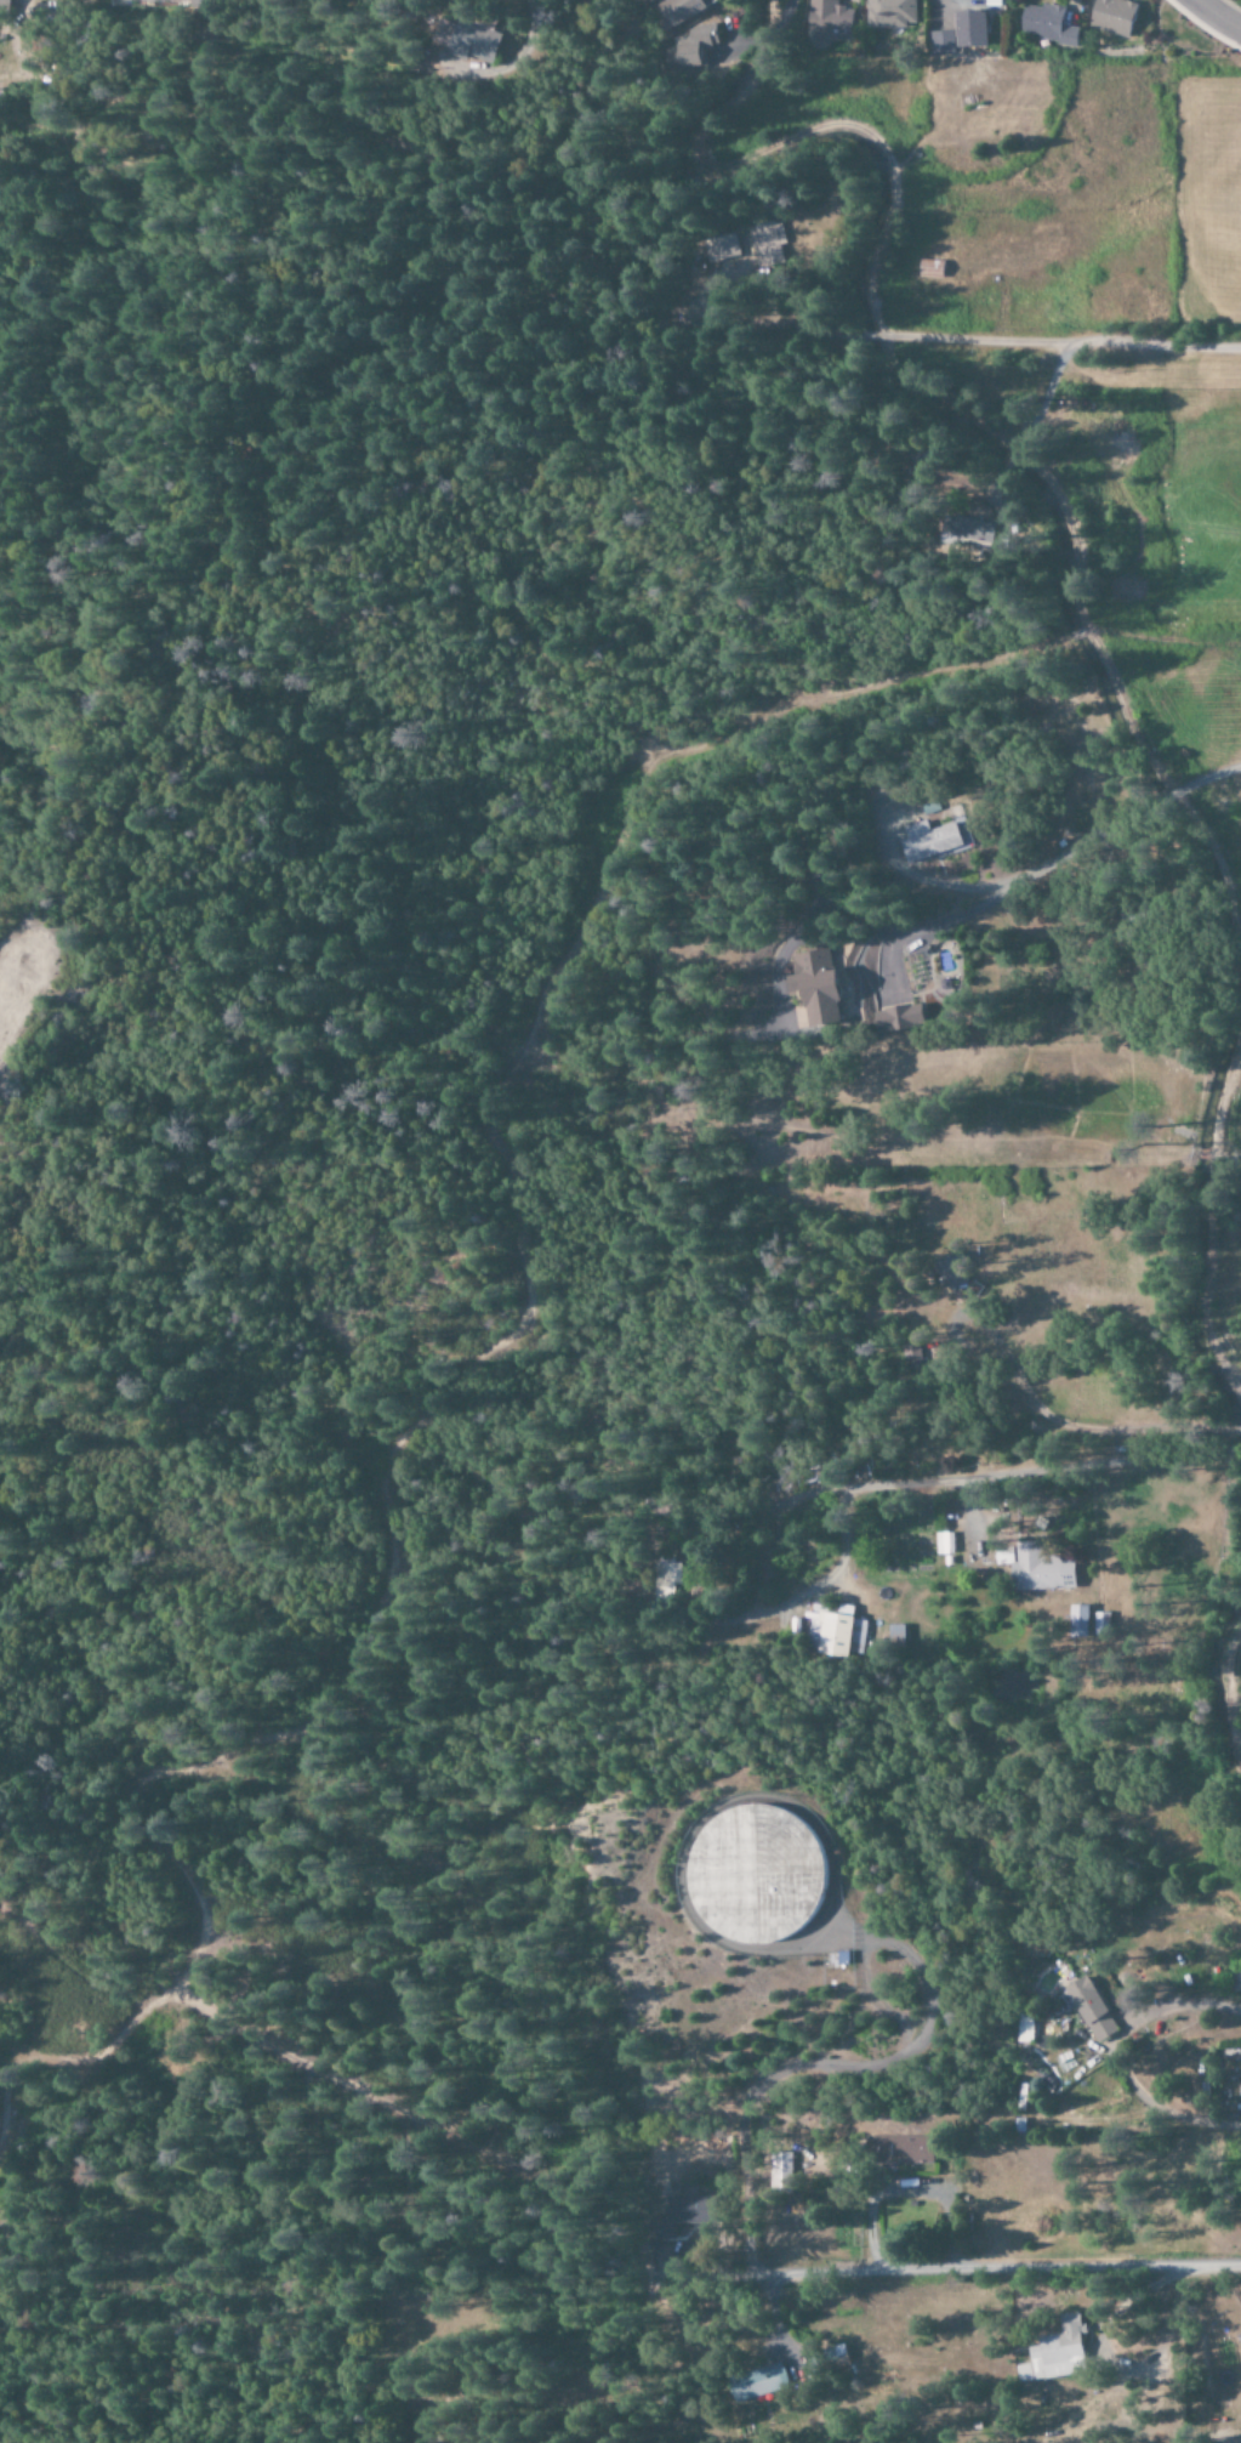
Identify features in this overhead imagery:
building: (5, 5)
building: (682, 10)
road: (359, 11)
building: (889, 13)
road: (1219, 15)
building: (1111, 16)
building: (827, 19)
building: (1046, 24)
building: (969, 28)
building: (471, 39)
building: (940, 41)
building: (694, 46)
building: (768, 243)
building: (721, 248)
road: (1070, 341)
building: (969, 533)
building: (933, 812)
building: (933, 840)
building: (1240, 845)
building: (814, 985)
building: (903, 1016)
building: (950, 1271)
building: (910, 1353)
road: (947, 1477)
building: (943, 1543)
building: (1035, 1567)
building: (666, 1579)
building: (1077, 1620)
building: (1100, 1623)
building: (835, 1632)
building: (894, 1635)
building: (756, 1873)
storage tank: (756, 1873)
building: (1091, 2010)
building: (898, 2149)
building: (780, 2171)
building: (676, 2218)
road: (1004, 2272)
building: (1240, 2345)
building: (1055, 2352)
building: (837, 2357)
building: (757, 2382)

